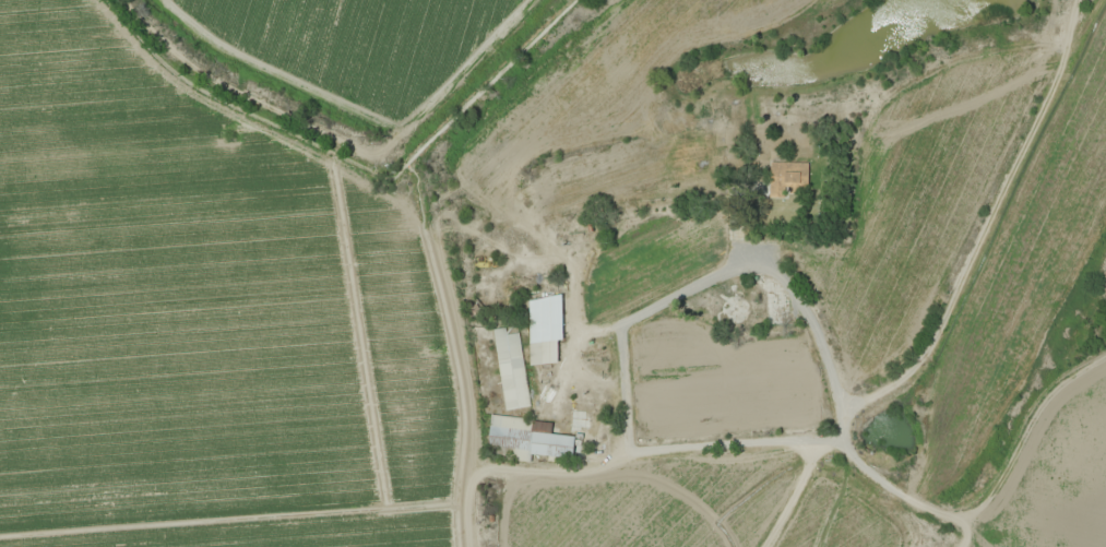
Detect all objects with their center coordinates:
building: (795, 178)
building: (554, 331)
road: (821, 334)

